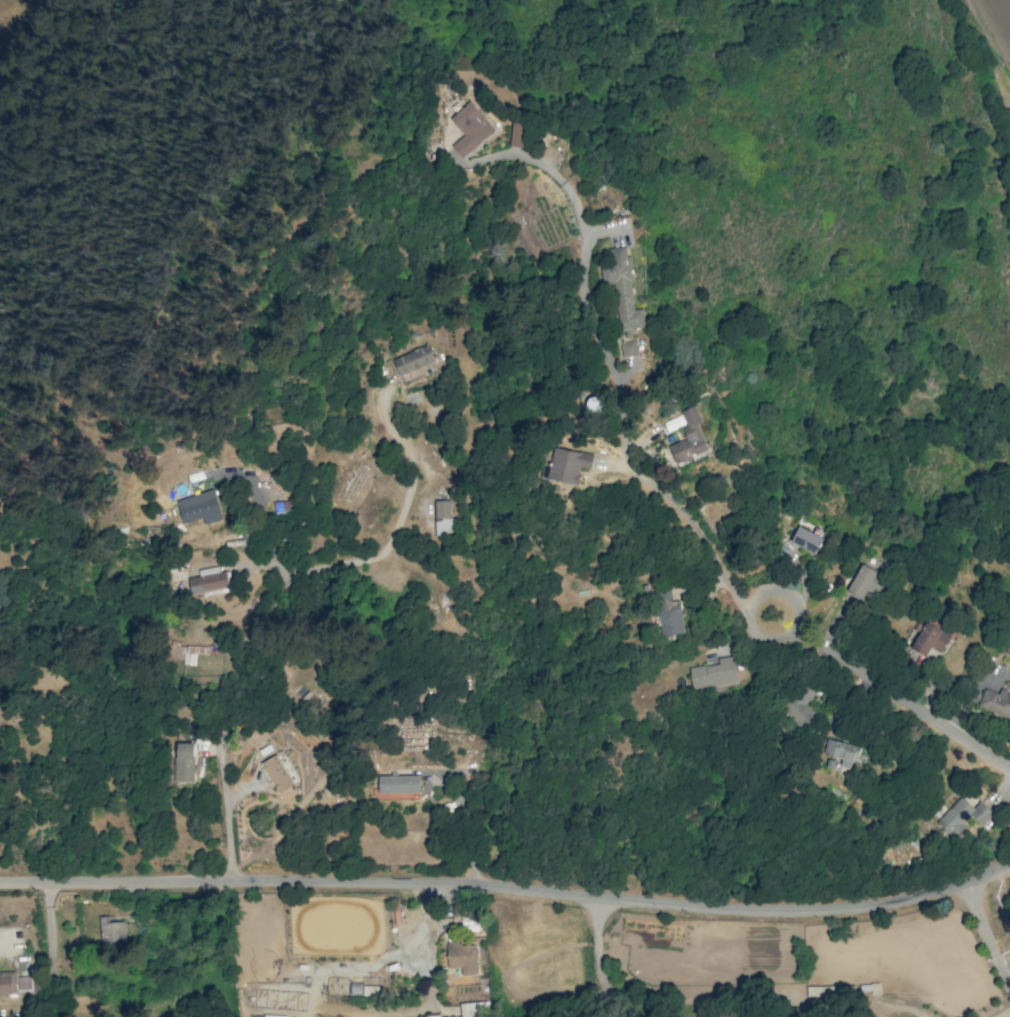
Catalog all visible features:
crop: (998, 16)
building: (470, 130)
building: (517, 134)
road: (528, 158)
building: (623, 291)
road: (592, 333)
building: (629, 347)
building: (413, 359)
road: (192, 370)
building: (673, 423)
building: (689, 438)
building: (566, 465)
building: (200, 507)
building: (443, 519)
road: (696, 529)
building: (807, 539)
building: (865, 582)
road: (282, 600)
building: (671, 614)
building: (929, 639)
building: (714, 673)
road: (892, 689)
building: (996, 702)
building: (801, 708)
building: (842, 752)
building: (184, 761)
building: (277, 773)
building: (398, 783)
building: (963, 815)
road: (511, 890)
road: (50, 930)
building: (111, 930)
road: (987, 943)
building: (462, 957)
road: (597, 960)
building: (7, 983)
building: (474, 1009)
building: (432, 1015)

